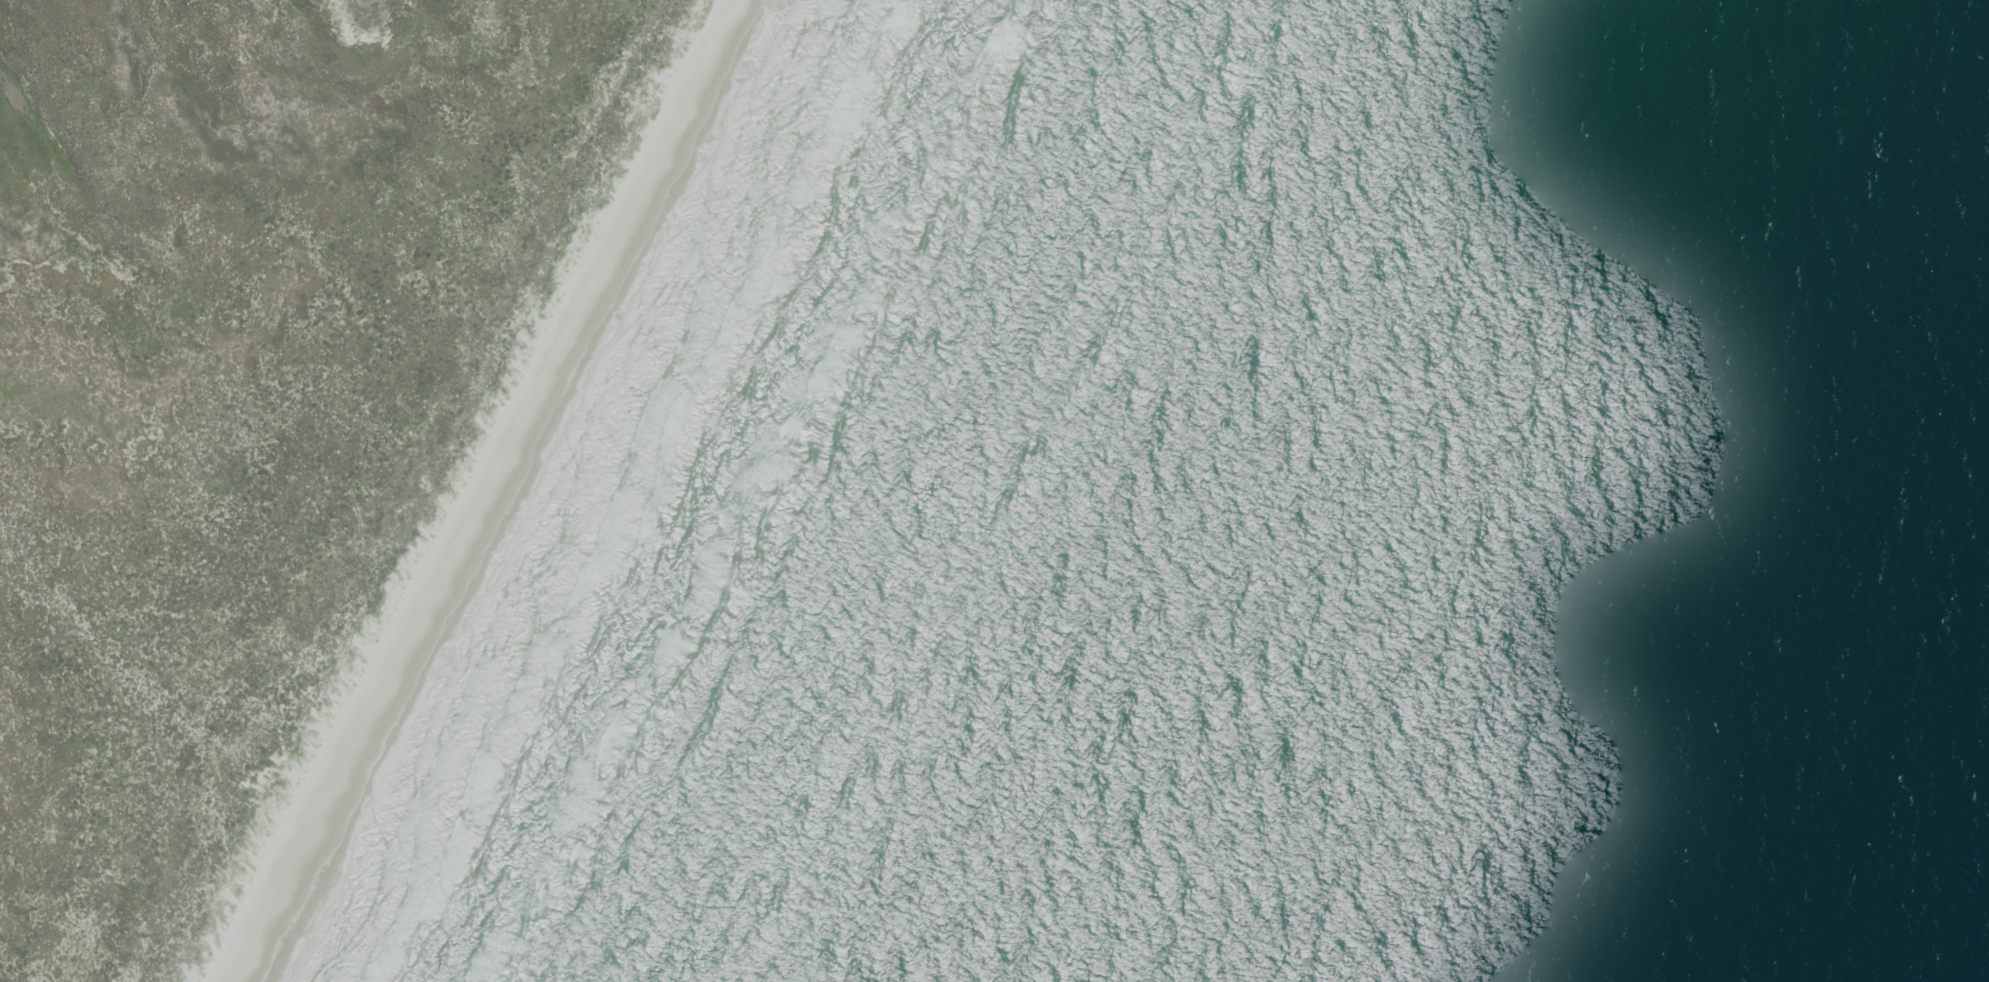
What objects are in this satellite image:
park: (426, 406)

